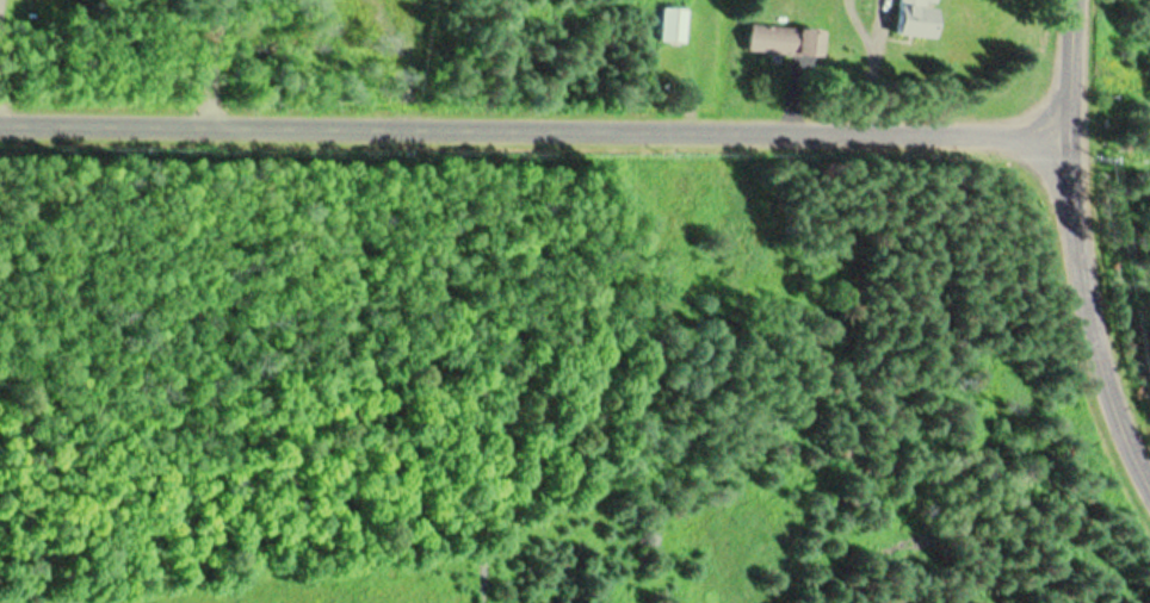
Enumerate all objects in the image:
building: (911, 21)
building: (670, 26)
building: (781, 41)
road: (1066, 68)
road: (532, 130)
park: (1121, 259)
road: (1094, 311)

